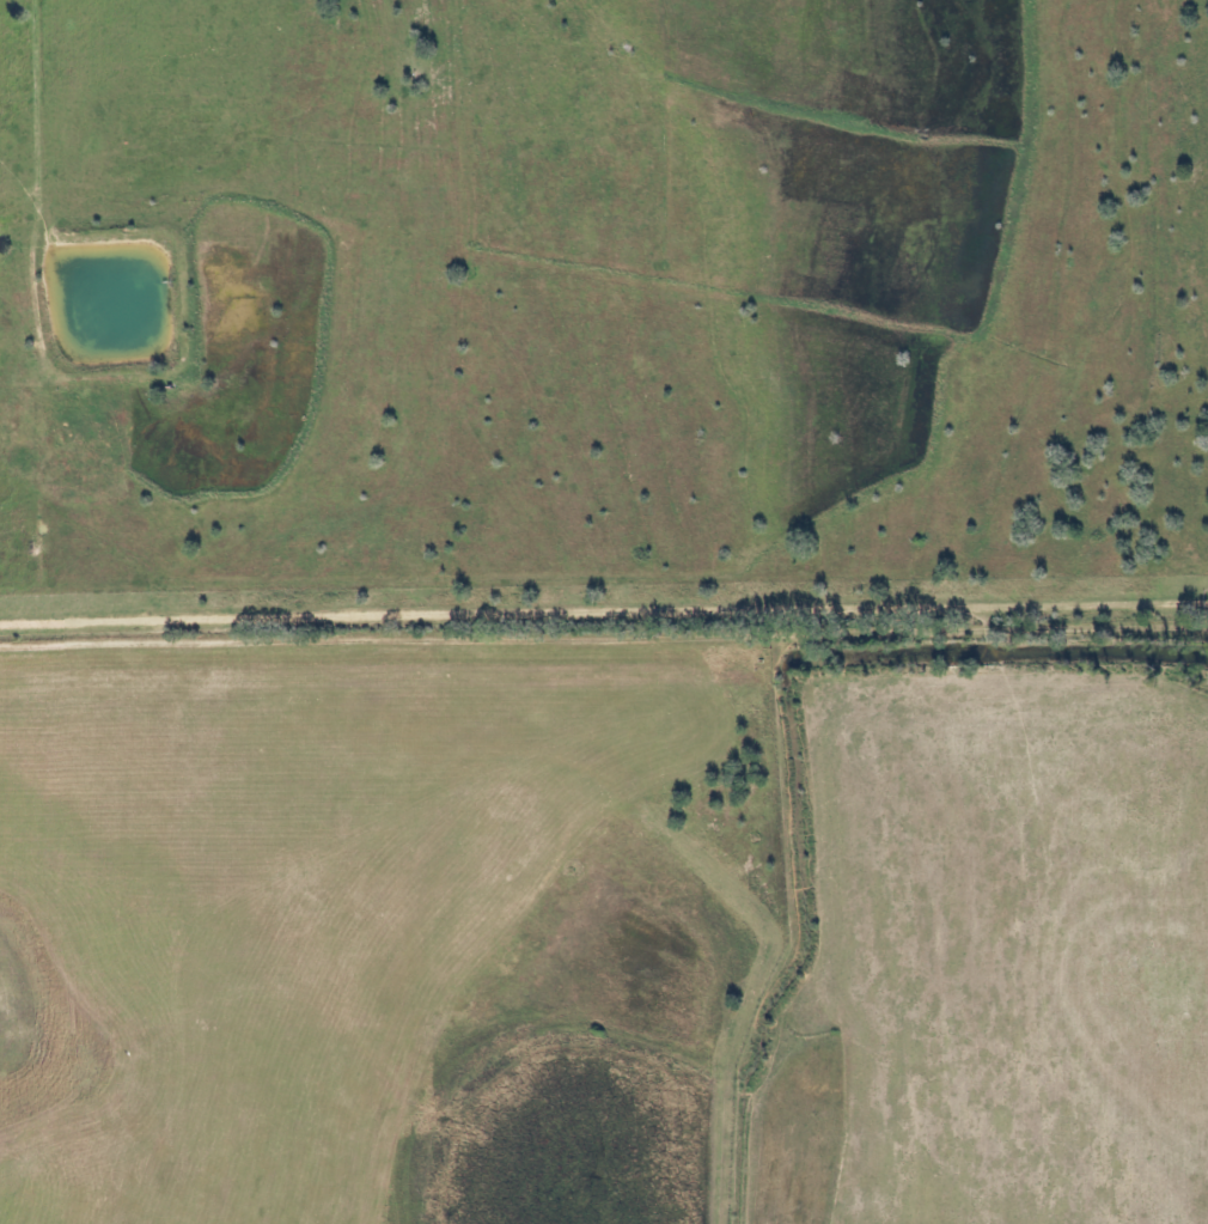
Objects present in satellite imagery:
road: (604, 635)

